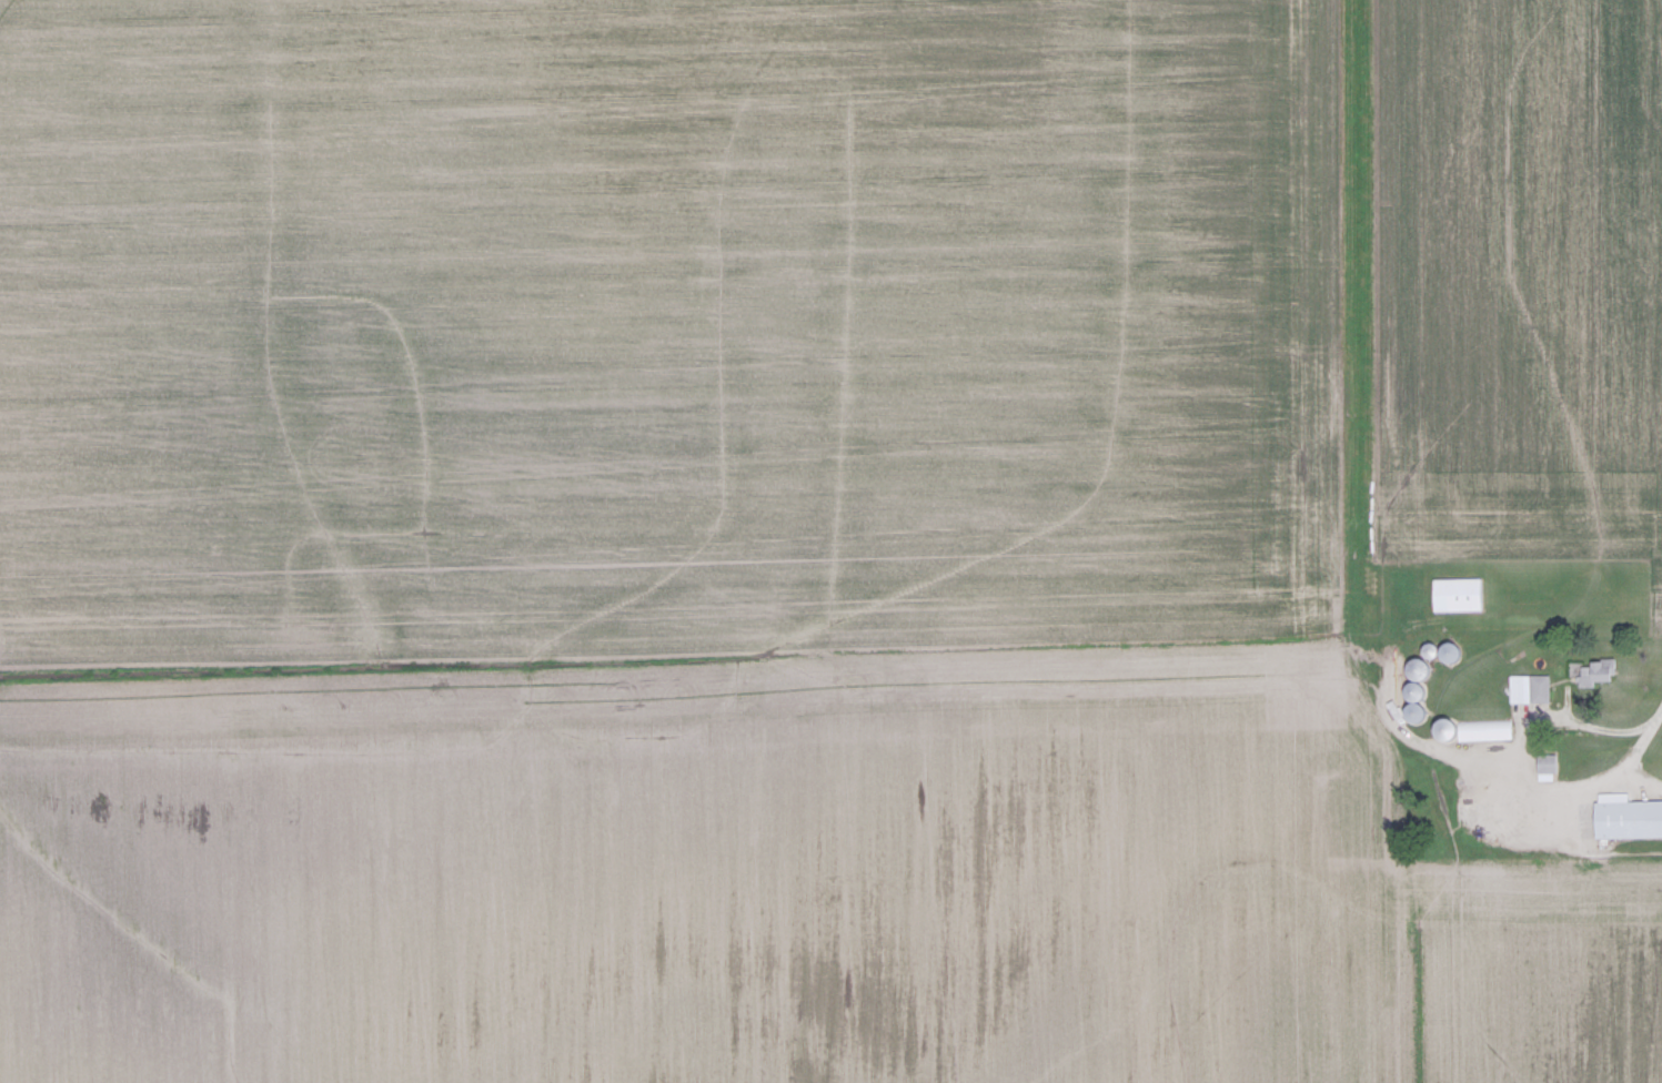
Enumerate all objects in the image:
airport runway: (1350, 338)
building: (1449, 594)
building: (1455, 652)
building: (1423, 669)
building: (1601, 671)
road: (1626, 687)
building: (1537, 688)
building: (1479, 730)
building: (1551, 763)
building: (1630, 818)

